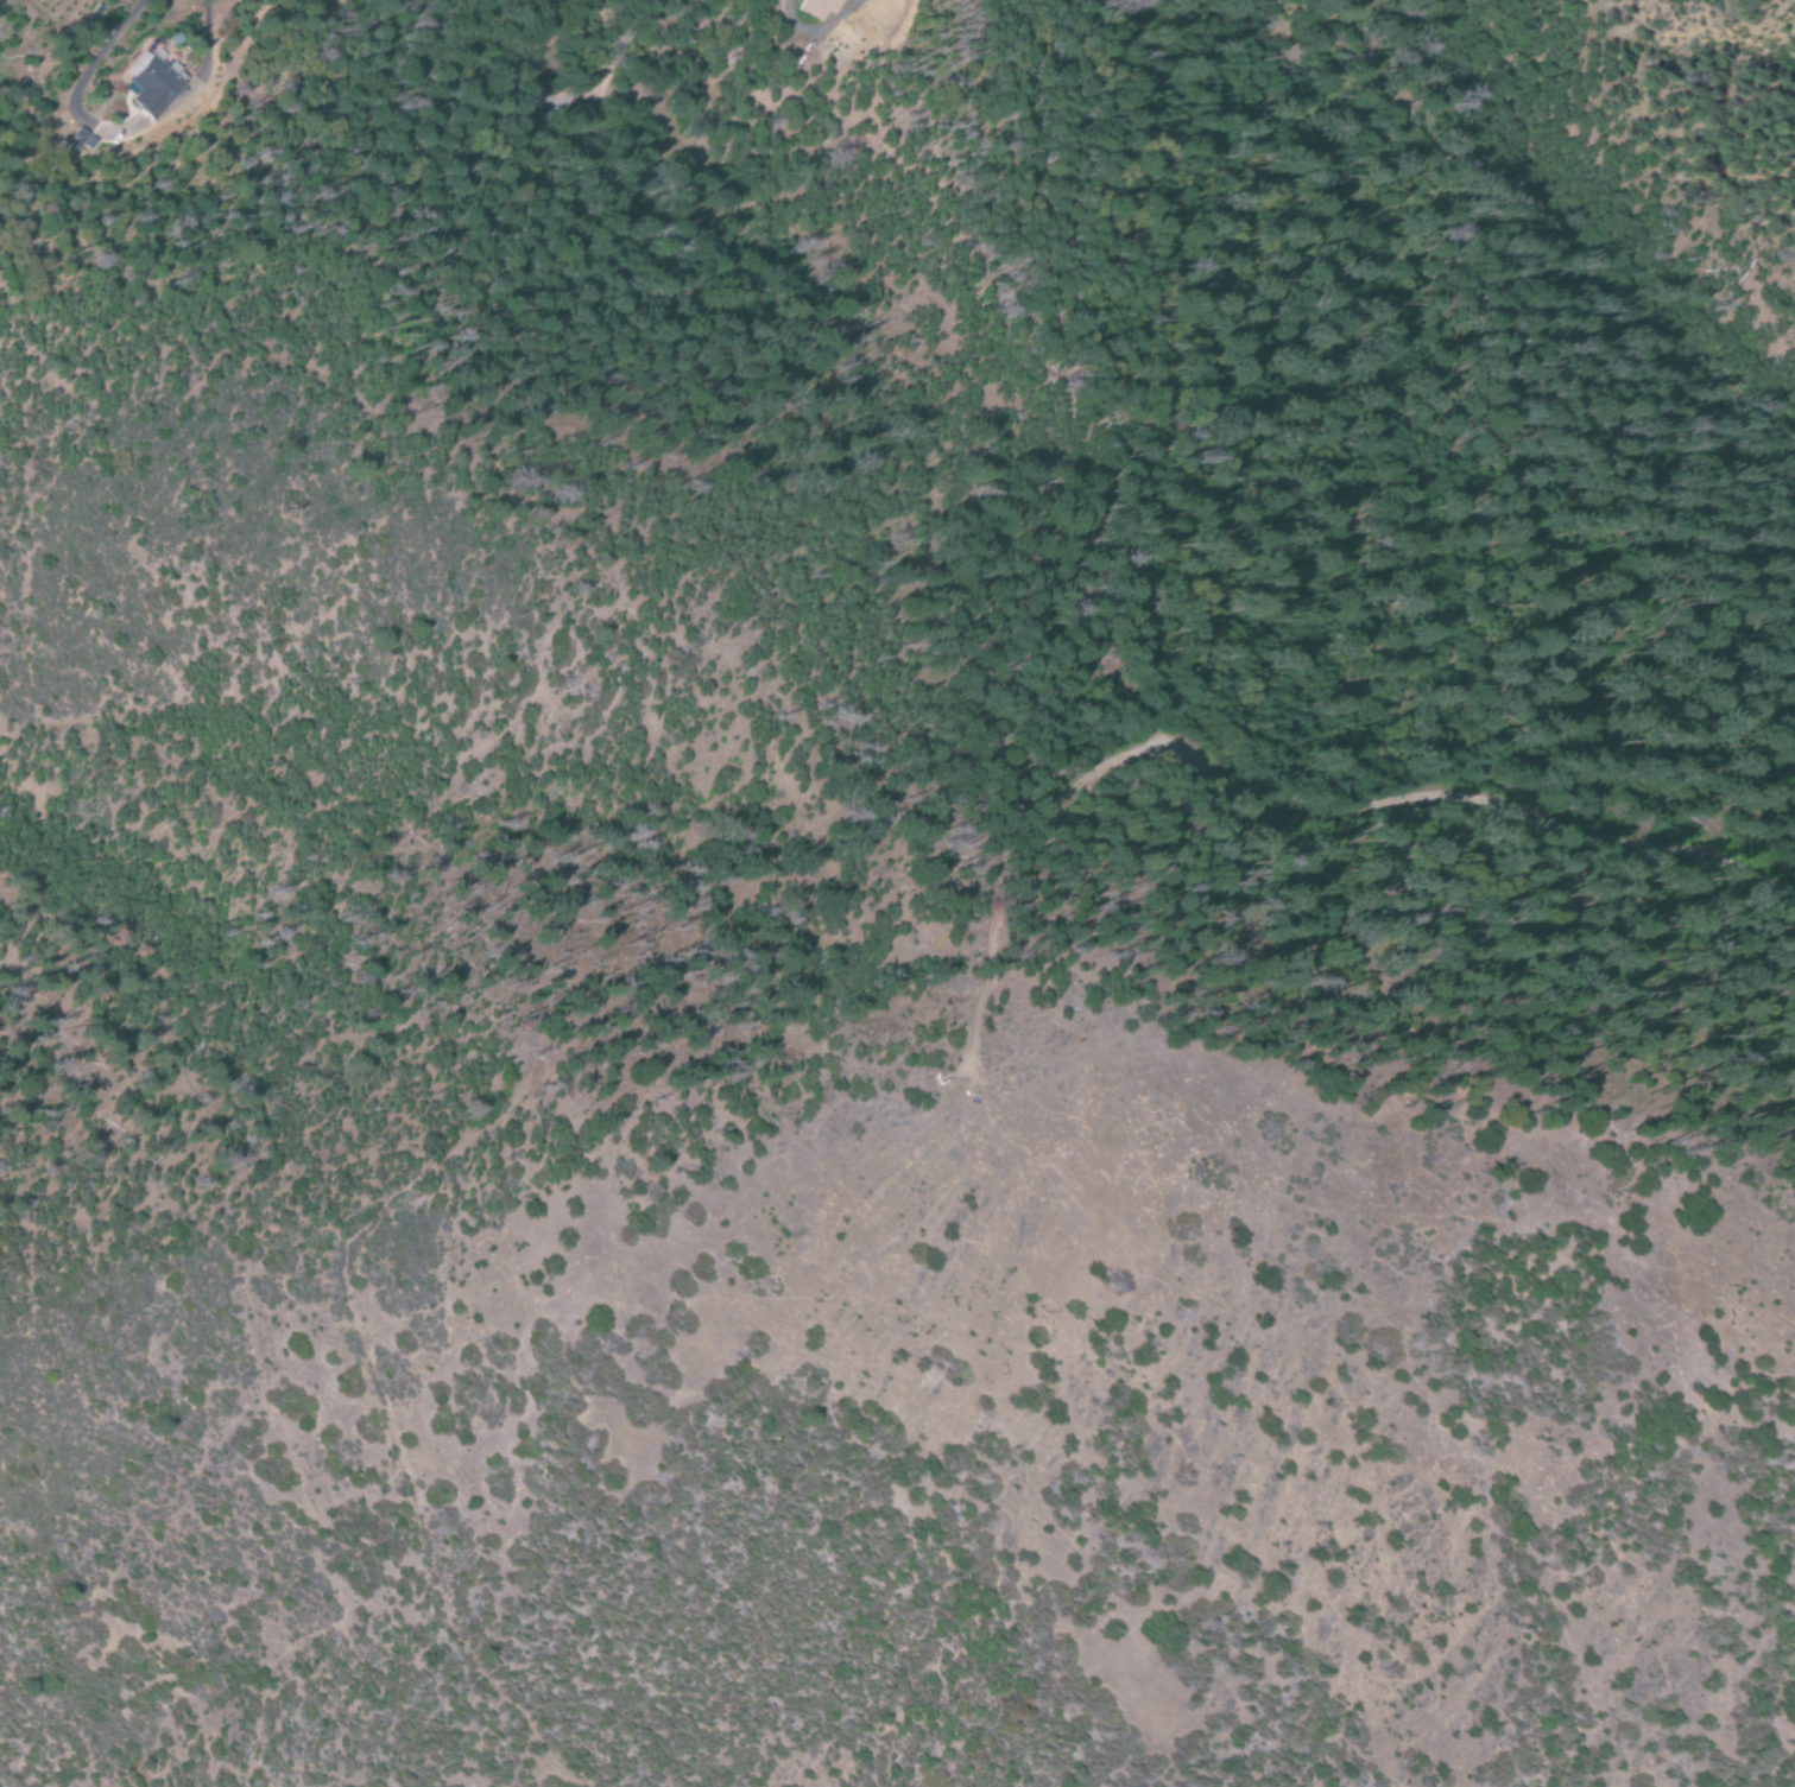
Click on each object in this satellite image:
building: (819, 8)
building: (152, 82)
road: (1445, 730)

